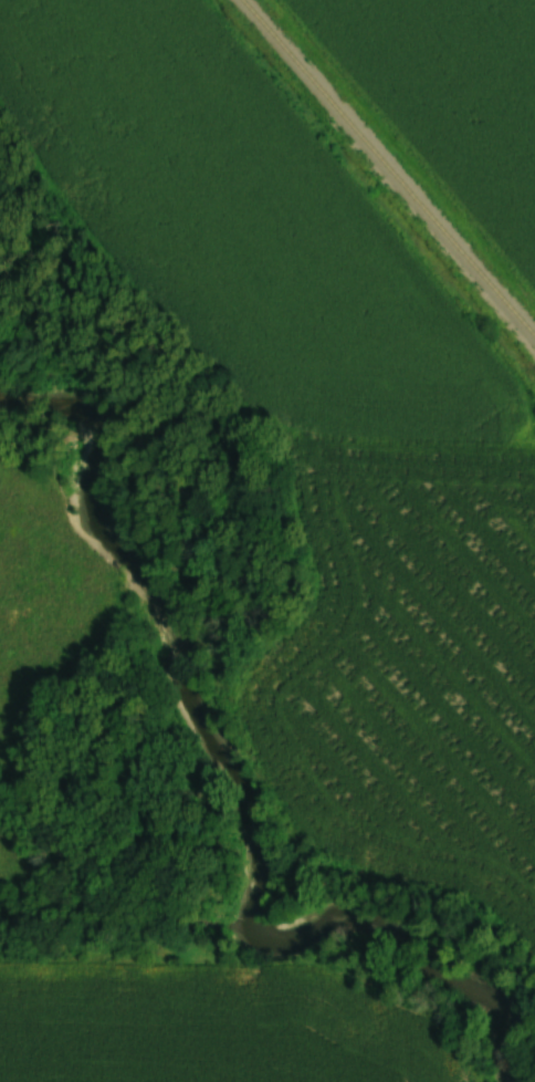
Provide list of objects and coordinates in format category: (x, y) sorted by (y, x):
railway: (408, 156)

